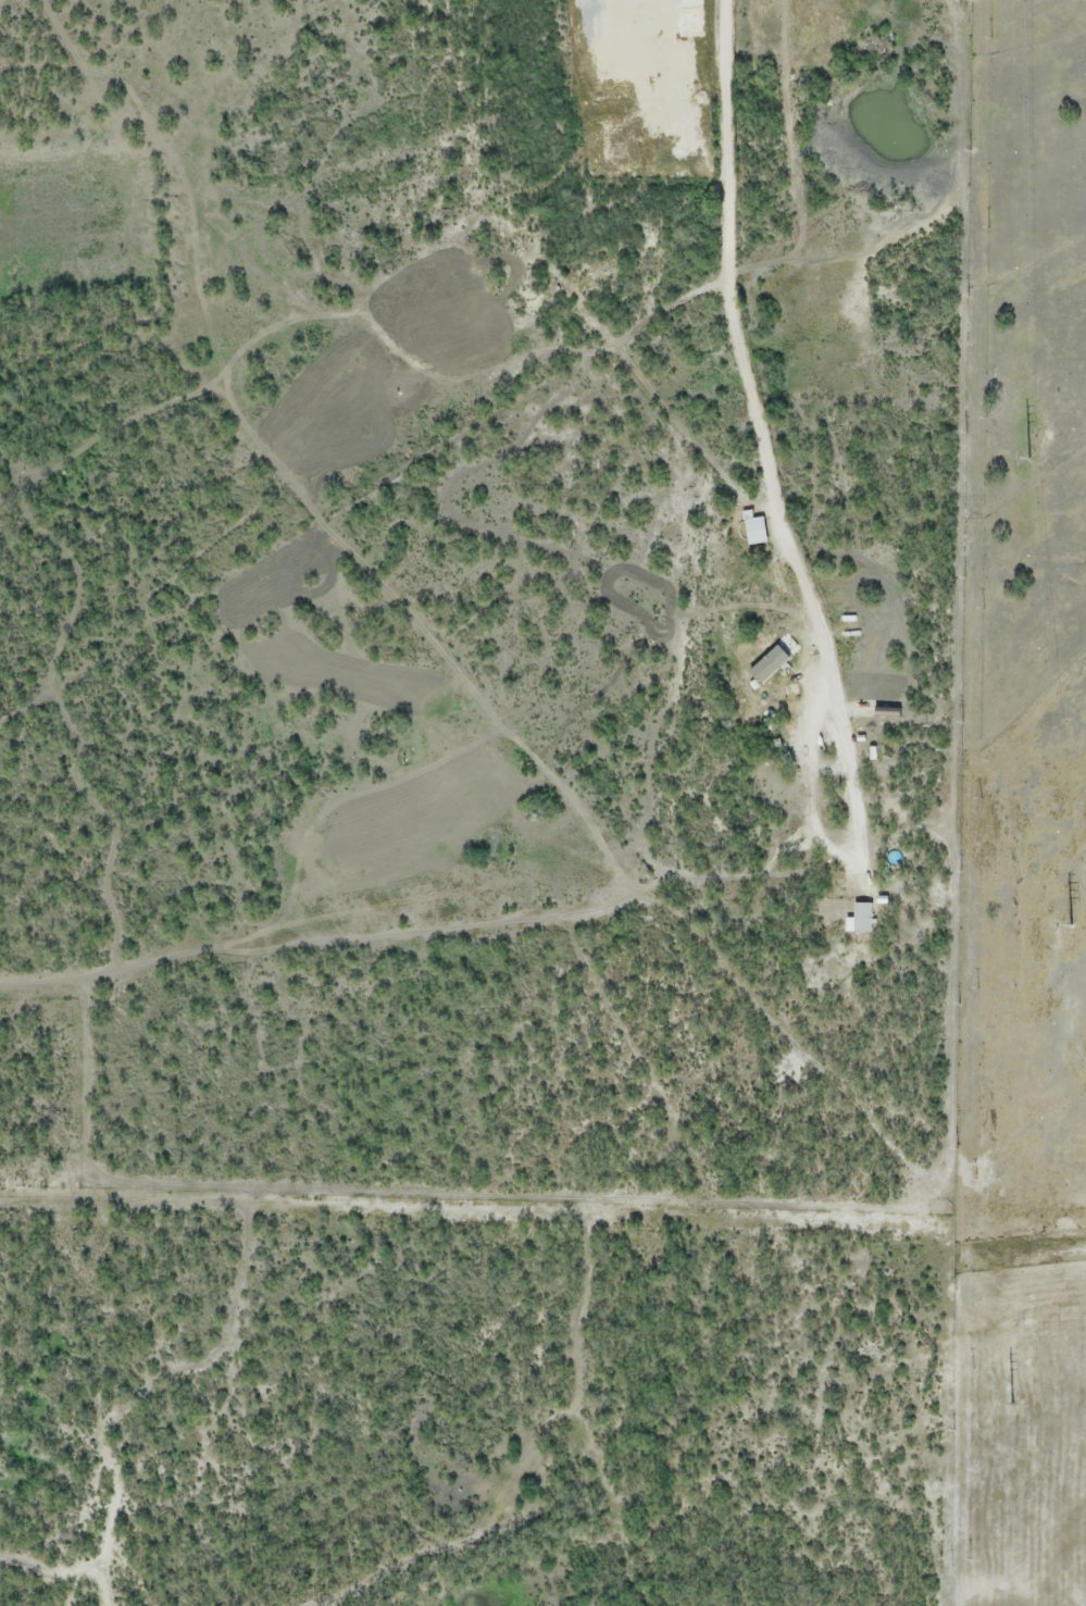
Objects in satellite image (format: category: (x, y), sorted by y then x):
power tower: (1029, 458)
building: (862, 917)
power tower: (1071, 929)
power tower: (1013, 1406)

